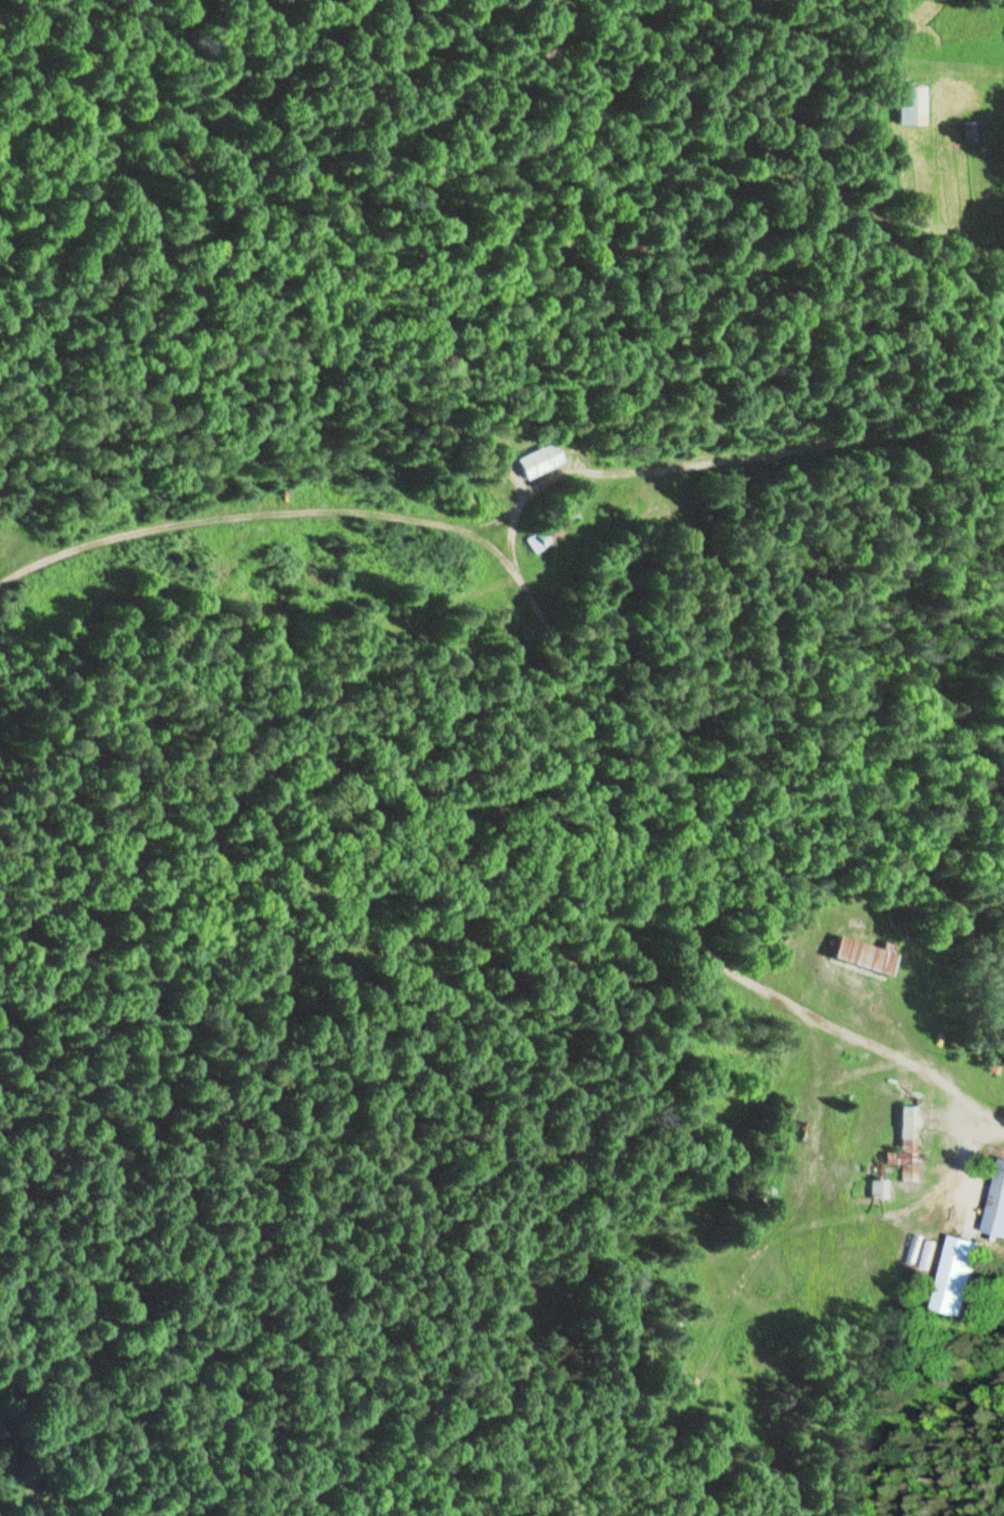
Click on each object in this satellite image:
building: (909, 104)
building: (970, 130)
road: (819, 441)
building: (537, 459)
building: (618, 504)
building: (552, 529)
road: (565, 671)
building: (864, 954)
building: (913, 1135)
building: (877, 1189)
building: (997, 1205)
building: (957, 1275)
building: (680, 1282)

